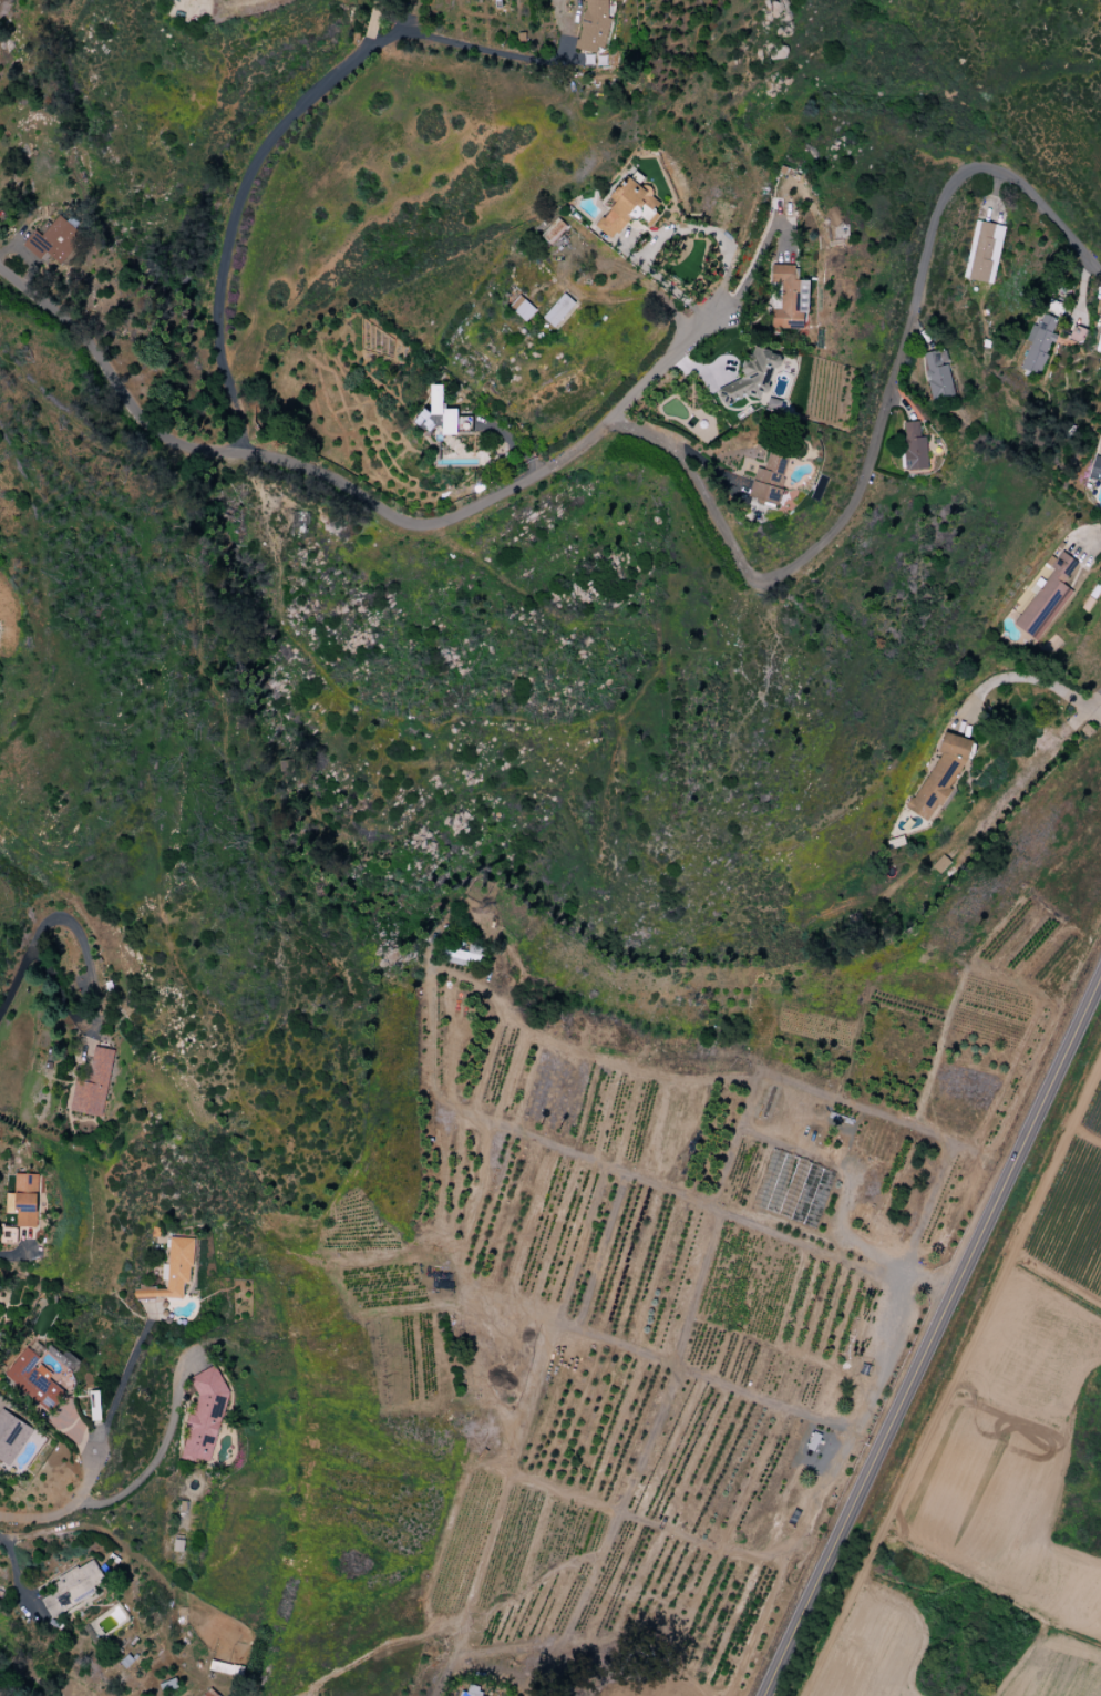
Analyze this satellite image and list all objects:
road: (382, 16)
building: (591, 25)
road: (491, 52)
building: (627, 207)
road: (231, 217)
building: (558, 227)
road: (717, 234)
building: (53, 241)
building: (982, 251)
road: (761, 254)
road: (662, 280)
building: (522, 308)
building: (559, 311)
building: (1038, 345)
building: (937, 374)
building: (752, 377)
building: (442, 415)
road: (882, 415)
road: (82, 432)
building: (1100, 432)
building: (914, 448)
building: (1095, 470)
building: (769, 479)
road: (368, 501)
building: (1047, 597)
road: (1028, 682)
road: (1097, 701)
road: (1097, 709)
building: (940, 774)
road: (63, 914)
building: (462, 955)
building: (93, 1085)
building: (25, 1200)
building: (8, 1235)
road: (851, 1241)
road: (14, 1253)
building: (173, 1272)
road: (932, 1334)
building: (31, 1378)
road: (120, 1385)
building: (204, 1415)
building: (11, 1437)
road: (145, 1473)
road: (66, 1510)
building: (72, 1587)
crop: (870, 1646)
crop: (1002, 1690)
building: (209, 1693)
building: (465, 1694)

